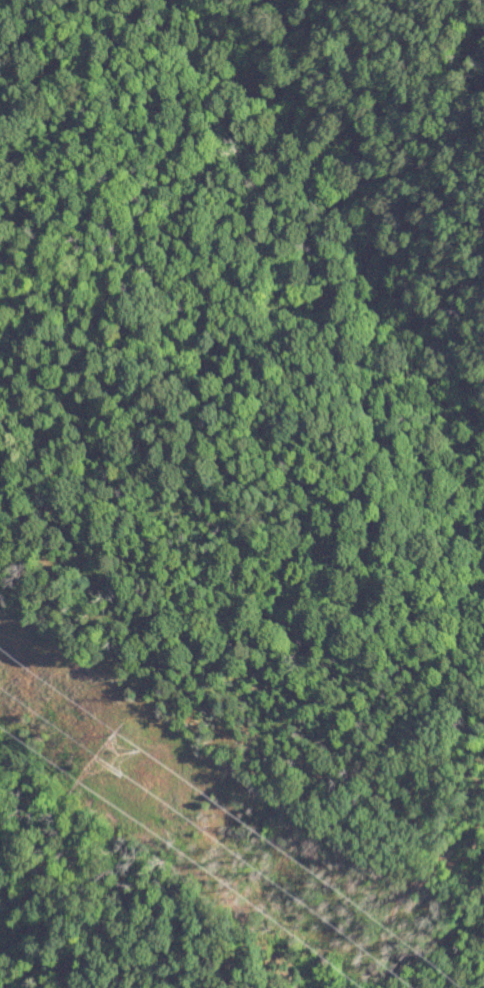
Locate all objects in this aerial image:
power tower: (122, 755)

